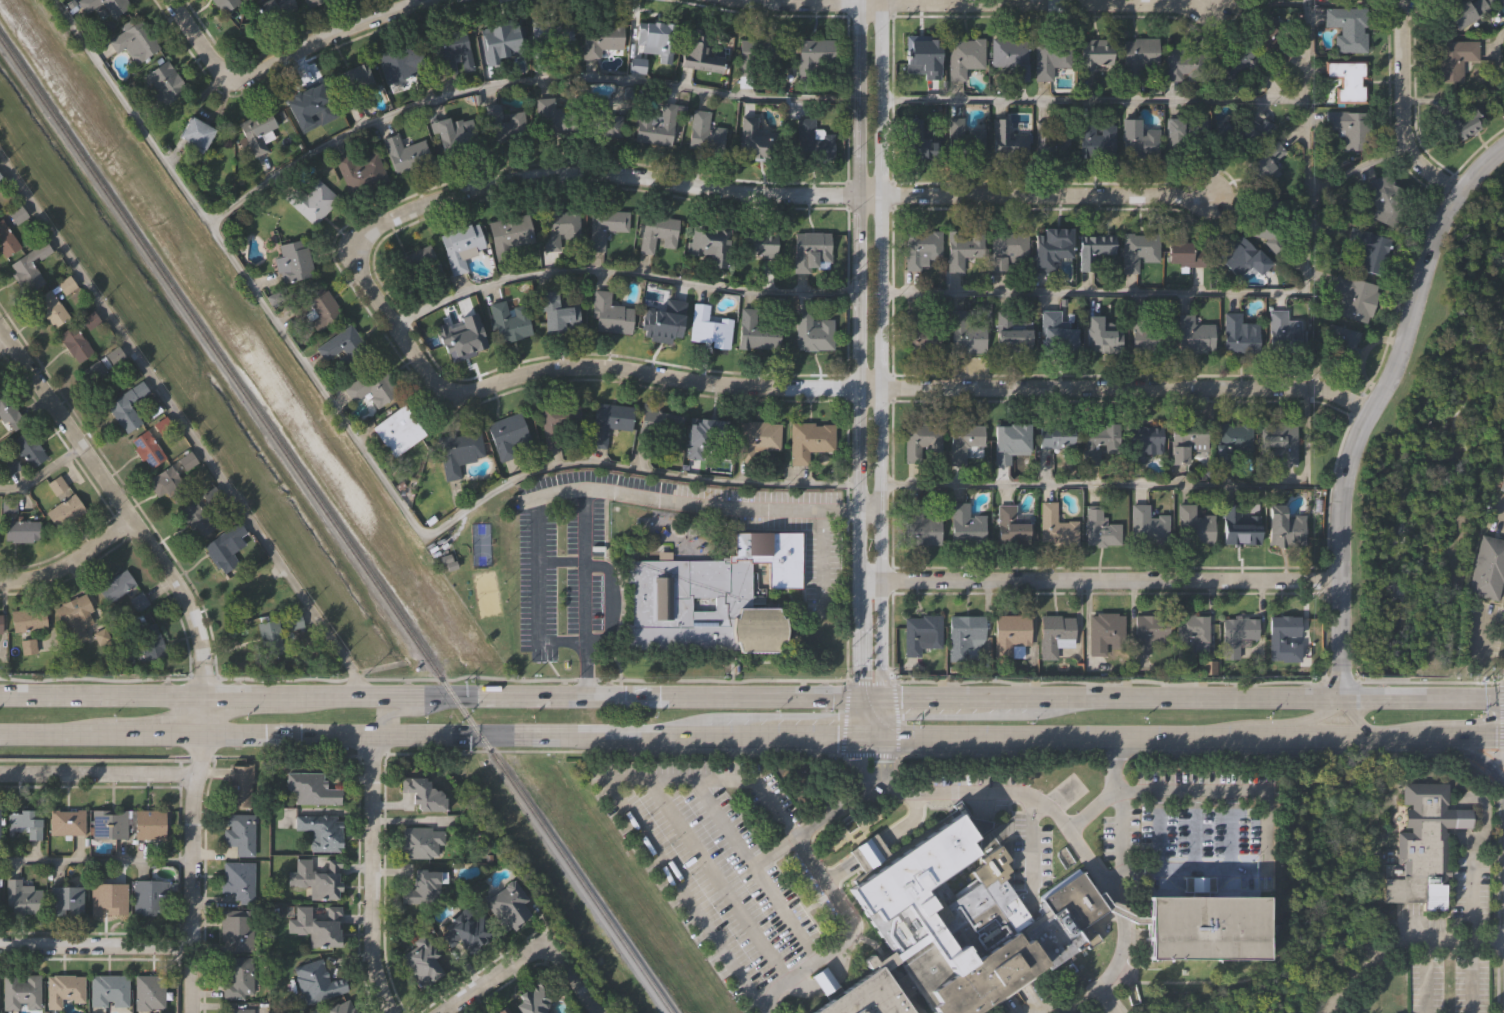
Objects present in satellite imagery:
building: (309, 2)
road: (857, 2)
road: (882, 2)
building: (1499, 3)
building: (223, 4)
road: (979, 4)
building: (103, 6)
building: (272, 9)
building: (1465, 12)
building: (1347, 28)
building: (1259, 31)
building: (600, 36)
building: (547, 38)
building: (650, 39)
building: (134, 41)
building: (499, 41)
building: (452, 49)
building: (700, 50)
building: (812, 55)
building: (1095, 55)
building: (1138, 55)
road: (273, 56)
building: (919, 56)
building: (962, 56)
building: (749, 57)
building: (1011, 57)
building: (1051, 58)
building: (1452, 58)
building: (1238, 60)
building: (401, 61)
building: (1181, 63)
road: (1499, 67)
building: (351, 79)
building: (1347, 80)
building: (165, 81)
road: (517, 86)
road: (1094, 103)
building: (304, 106)
road: (1400, 107)
building: (554, 118)
building: (602, 121)
building: (1460, 121)
building: (503, 125)
building: (654, 126)
building: (1349, 128)
building: (704, 133)
building: (194, 134)
building: (805, 135)
building: (1185, 135)
building: (256, 136)
building: (454, 137)
building: (1094, 138)
building: (750, 139)
building: (1005, 139)
building: (1137, 140)
building: (1052, 141)
building: (921, 142)
building: (965, 142)
building: (405, 153)
building: (1265, 162)
building: (359, 170)
road: (600, 176)
building: (1, 180)
road: (1306, 193)
road: (1037, 196)
building: (1385, 198)
building: (311, 200)
building: (17, 215)
building: (559, 227)
building: (612, 229)
building: (656, 232)
building: (510, 234)
building: (1268, 237)
building: (6, 240)
building: (709, 244)
building: (759, 244)
building: (460, 246)
building: (1006, 248)
building: (1093, 248)
building: (1047, 249)
building: (1137, 249)
building: (1369, 249)
building: (811, 250)
building: (922, 250)
building: (1184, 251)
road: (860, 257)
building: (1241, 257)
building: (293, 261)
building: (964, 262)
building: (29, 266)
building: (419, 268)
road: (621, 279)
building: (66, 287)
road: (1094, 292)
building: (1355, 297)
building: (50, 308)
building: (321, 309)
building: (559, 313)
building: (609, 314)
building: (662, 319)
building: (90, 320)
building: (509, 321)
building: (1058, 327)
building: (1150, 327)
building: (707, 328)
building: (757, 329)
building: (923, 329)
building: (1285, 330)
building: (812, 331)
building: (965, 333)
building: (1010, 333)
building: (1100, 333)
building: (1193, 335)
building: (1239, 335)
building: (461, 337)
building: (1336, 341)
building: (74, 343)
building: (344, 347)
road: (882, 369)
building: (108, 380)
building: (372, 386)
road: (816, 389)
building: (127, 406)
road: (1373, 406)
building: (9, 413)
building: (608, 421)
building: (662, 421)
building: (560, 422)
road: (189, 425)
building: (397, 431)
building: (506, 435)
building: (1232, 436)
building: (706, 438)
building: (756, 438)
building: (1054, 439)
building: (809, 440)
building: (1185, 440)
building: (922, 441)
building: (1007, 442)
building: (1098, 442)
building: (1142, 442)
building: (1278, 442)
building: (967, 445)
building: (28, 447)
building: (147, 449)
building: (458, 451)
road: (367, 456)
park: (1431, 458)
building: (187, 461)
building: (10, 465)
road: (42, 475)
building: (167, 483)
building: (57, 484)
building: (1502, 484)
road: (1142, 487)
road: (721, 505)
road: (121, 508)
building: (65, 511)
road: (869, 511)
road: (1498, 515)
building: (196, 519)
building: (965, 524)
building: (919, 525)
building: (1054, 525)
building: (1010, 526)
building: (1146, 526)
building: (1283, 526)
building: (1099, 527)
building: (1193, 527)
railway: (335, 528)
building: (1240, 529)
building: (21, 531)
building: (224, 546)
road: (68, 559)
road: (561, 562)
road: (607, 566)
building: (1488, 566)
road: (538, 568)
parking lot: (565, 571)
road: (818, 578)
road: (1097, 580)
building: (115, 586)
building: (250, 589)
building: (712, 594)
road: (585, 601)
building: (73, 617)
building: (28, 619)
building: (297, 620)
building: (0, 622)
road: (857, 623)
road: (1481, 630)
building: (1147, 632)
building: (1282, 632)
building: (920, 633)
building: (1106, 633)
building: (1236, 633)
building: (1010, 634)
building: (1054, 634)
building: (1191, 635)
building: (270, 637)
building: (965, 637)
building: (149, 641)
building: (127, 658)
road: (584, 668)
road: (770, 695)
traffic signals: (857, 696)
traffic signals: (880, 696)
road: (1349, 696)
road: (1401, 697)
road: (100, 699)
road: (1474, 699)
road: (404, 710)
road: (1311, 716)
road: (1354, 716)
road: (201, 717)
road: (784, 735)
traffic signals: (858, 735)
traffic signals: (882, 735)
road: (1474, 736)
traffic signals: (1497, 736)
road: (1406, 737)
road: (101, 738)
road: (1481, 759)
road: (96, 775)
building: (240, 784)
building: (312, 789)
road: (1200, 792)
building: (424, 794)
road: (898, 794)
road: (951, 797)
road: (861, 800)
building: (26, 822)
building: (67, 822)
building: (109, 822)
building: (151, 822)
road: (728, 822)
road: (1074, 829)
building: (322, 830)
building: (239, 831)
road: (1121, 832)
road: (795, 834)
building: (421, 839)
road: (188, 840)
building: (1423, 846)
building: (870, 850)
road: (777, 852)
road: (94, 860)
road: (1194, 870)
road: (718, 874)
road: (371, 876)
building: (317, 877)
building: (239, 879)
building: (422, 889)
building: (150, 894)
building: (109, 897)
building: (22, 898)
building: (66, 898)
building: (506, 905)
road: (1127, 908)
road: (790, 912)
building: (317, 925)
building: (1206, 926)
building: (237, 927)
building: (468, 931)
building: (960, 932)
road: (716, 937)
road: (93, 946)
building: (424, 959)
road: (1365, 962)
building: (237, 975)
road: (486, 976)
road: (567, 977)
building: (826, 978)
road: (187, 979)
building: (316, 982)
building: (65, 989)
building: (109, 990)
building: (21, 991)
building: (150, 991)
building: (537, 999)
road: (1079, 1002)
road: (1104, 1002)
road: (762, 1003)
building: (340, 1008)
building: (238, 1010)
building: (503, 1010)

